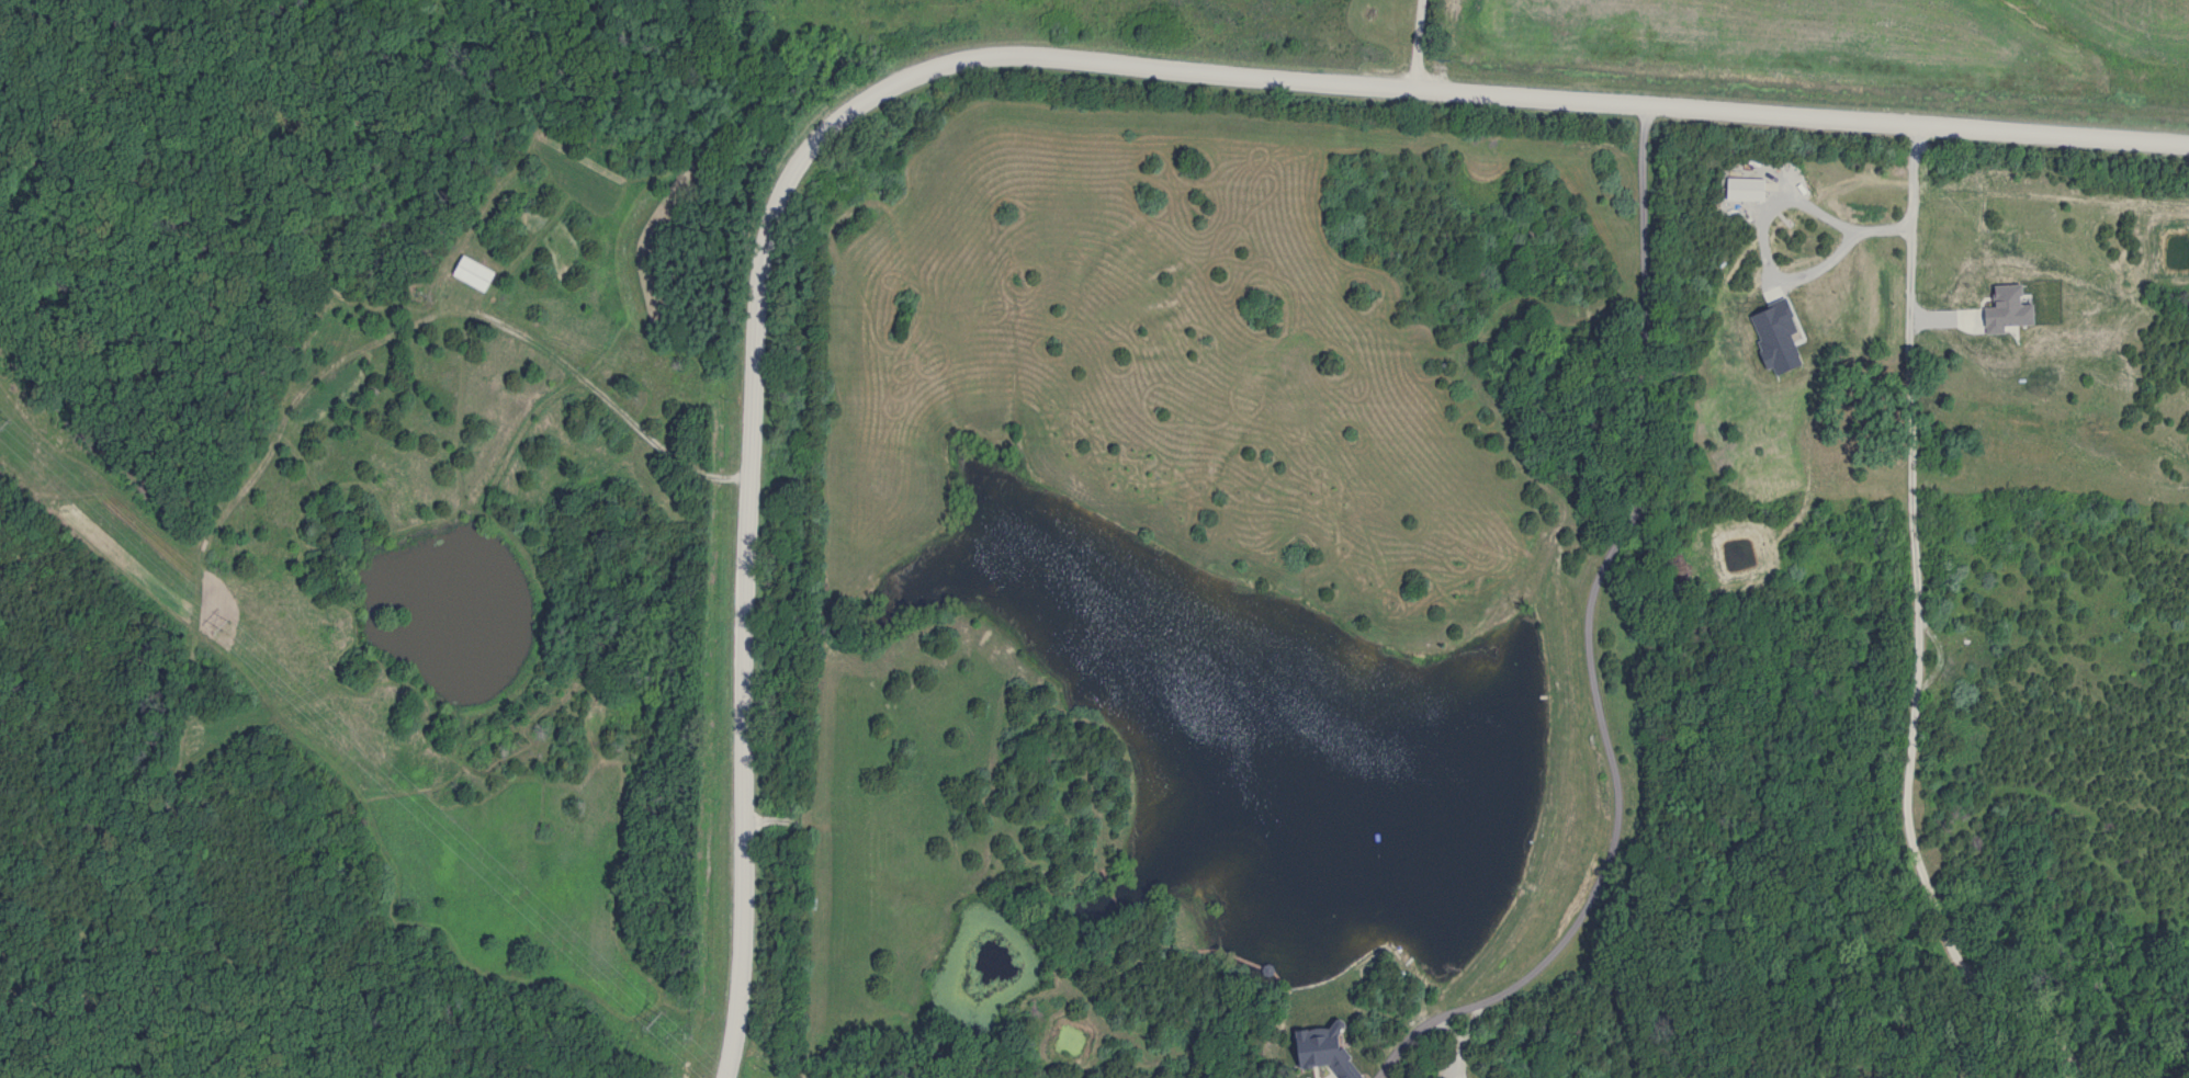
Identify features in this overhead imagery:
road: (1414, 44)
road: (1011, 56)
road: (1843, 225)
building: (475, 274)
road: (613, 405)
power tower: (4, 427)
power tower: (227, 625)
road: (1915, 635)
road: (1583, 643)
power tower: (654, 1022)
road: (2052, 1070)

